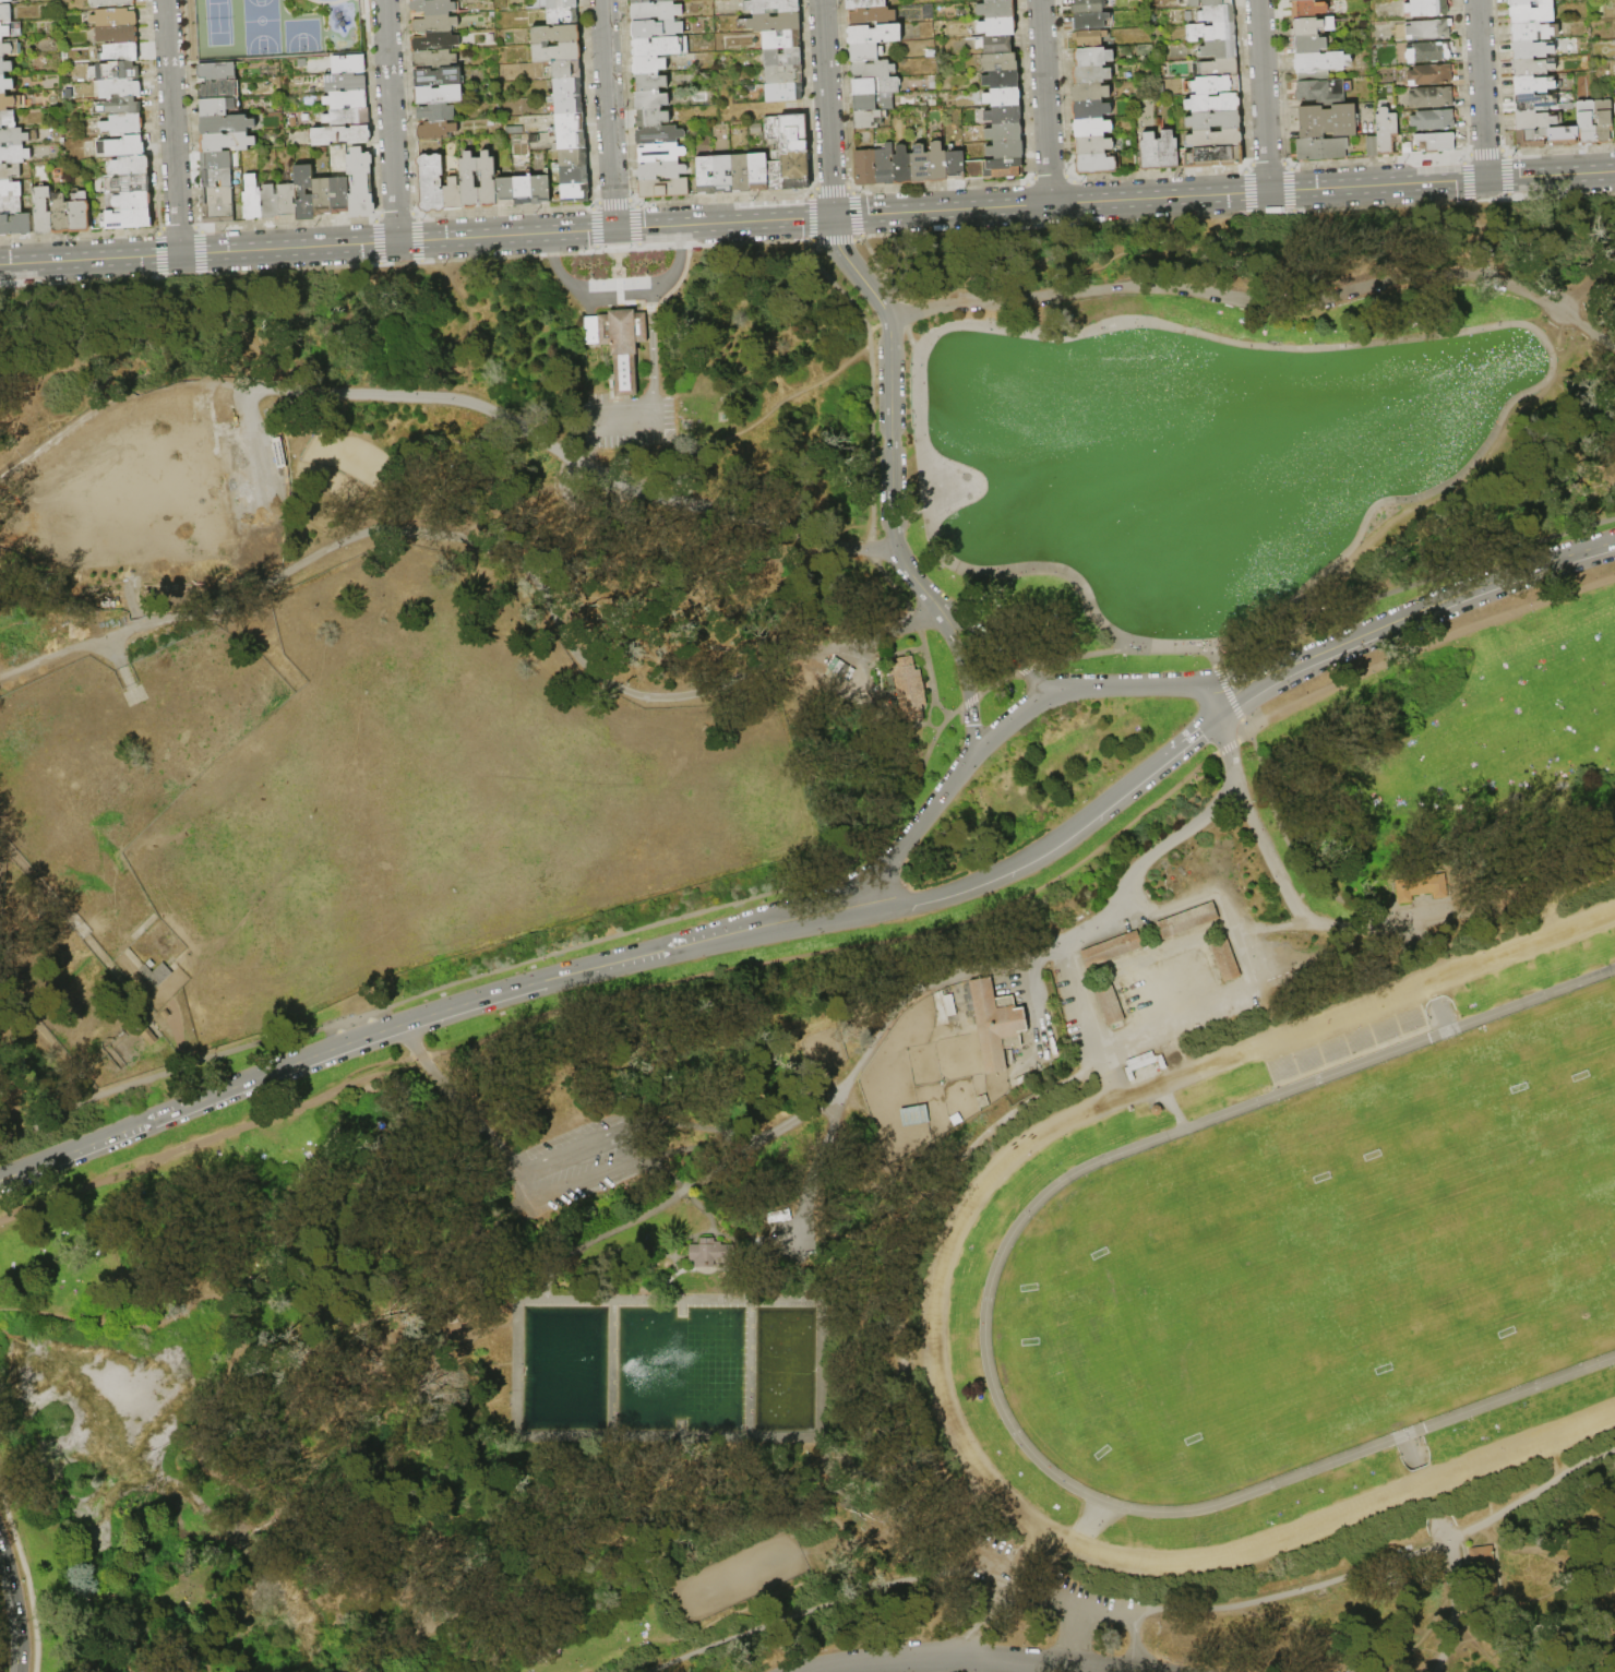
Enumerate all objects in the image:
building: (994, 0)
building: (1302, 0)
building: (7, 1)
building: (112, 2)
road: (327, 2)
building: (650, 2)
building: (1209, 2)
building: (1529, 2)
building: (562, 3)
building: (865, 3)
building: (1089, 5)
building: (432, 7)
building: (771, 7)
building: (1427, 8)
building: (997, 9)
building: (1307, 9)
building: (656, 12)
building: (5, 13)
building: (1218, 14)
building: (1531, 14)
building: (563, 16)
building: (873, 16)
building: (115, 17)
building: (1091, 21)
park: (218, 22)
building: (775, 22)
building: (435, 23)
park: (261, 26)
building: (997, 26)
building: (1313, 26)
park: (273, 28)
building: (657, 28)
building: (1429, 29)
building: (11, 31)
building: (1211, 32)
building: (1533, 32)
building: (117, 34)
building: (875, 34)
park: (301, 35)
building: (557, 35)
building: (781, 39)
building: (1091, 39)
building: (435, 41)
building: (995, 45)
building: (1311, 45)
building: (657, 46)
building: (8, 49)
building: (1220, 49)
building: (1531, 50)
building: (121, 52)
building: (557, 52)
building: (866, 52)
building: (1428, 52)
building: (783, 57)
building: (1092, 57)
building: (435, 59)
building: (998, 62)
building: (349, 64)
building: (649, 64)
building: (1320, 64)
building: (5, 67)
building: (1535, 67)
building: (1220, 68)
building: (120, 70)
building: (567, 70)
building: (873, 70)
building: (216, 71)
building: (783, 74)
building: (1091, 74)
building: (1431, 75)
building: (438, 76)
building: (1002, 80)
building: (345, 82)
building: (650, 83)
building: (5, 84)
building: (1216, 85)
building: (1530, 85)
building: (876, 86)
building: (569, 87)
building: (120, 88)
road: (1482, 88)
building: (218, 91)
building: (785, 92)
building: (1321, 92)
building: (1090, 93)
building: (439, 95)
road: (1264, 95)
building: (1432, 97)
building: (1003, 98)
building: (347, 99)
building: (651, 100)
building: (13, 101)
building: (874, 101)
road: (1044, 101)
building: (1533, 103)
building: (1213, 104)
building: (569, 105)
building: (125, 106)
building: (217, 107)
road: (826, 108)
building: (1090, 110)
building: (438, 112)
road: (609, 114)
building: (1003, 116)
building: (348, 118)
building: (653, 118)
building: (8, 119)
building: (868, 119)
road: (390, 120)
building: (1433, 120)
building: (1533, 120)
building: (1603, 120)
building: (1213, 121)
building: (1328, 121)
building: (1587, 121)
building: (570, 122)
building: (226, 124)
building: (123, 126)
road: (172, 126)
building: (1091, 128)
building: (436, 130)
building: (1005, 132)
building: (1384, 134)
building: (342, 135)
building: (659, 135)
building: (14, 136)
building: (1563, 136)
building: (1530, 138)
building: (1216, 139)
building: (571, 140)
building: (227, 142)
building: (1436, 142)
building: (1093, 145)
building: (122, 146)
building: (1006, 148)
building: (1321, 148)
building: (1148, 152)
building: (1167, 152)
building: (661, 153)
building: (788, 153)
building: (14, 154)
building: (1213, 157)
building: (573, 158)
building: (216, 160)
building: (937, 164)
building: (1096, 164)
building: (132, 165)
building: (885, 165)
building: (902, 166)
building: (919, 166)
building: (955, 166)
building: (994, 167)
building: (866, 168)
building: (661, 170)
building: (10, 171)
building: (741, 172)
building: (758, 172)
building: (706, 175)
building: (723, 175)
building: (575, 176)
building: (217, 178)
building: (488, 180)
building: (469, 181)
building: (133, 183)
building: (361, 183)
building: (431, 183)
building: (663, 188)
building: (10, 189)
building: (540, 190)
building: (524, 191)
building: (506, 192)
road: (1223, 192)
building: (306, 193)
building: (575, 193)
building: (218, 195)
building: (339, 195)
building: (453, 195)
building: (323, 196)
building: (252, 199)
building: (134, 201)
building: (286, 201)
building: (268, 202)
building: (11, 205)
building: (43, 211)
building: (80, 213)
building: (61, 214)
building: (219, 214)
traffic signals: (834, 216)
building: (128, 219)
building: (16, 225)
road: (1476, 226)
road: (415, 238)
road: (417, 239)
road: (378, 241)
road: (1240, 244)
road: (1241, 247)
road: (199, 252)
road: (160, 255)
road: (1607, 261)
road: (409, 262)
road: (270, 273)
road: (887, 283)
road: (81, 284)
road: (1578, 285)
road: (620, 295)
road: (1259, 300)
road: (178, 319)
road: (465, 329)
road: (212, 331)
building: (618, 343)
road: (656, 347)
road: (416, 395)
road: (248, 403)
road: (890, 410)
road: (96, 411)
road: (756, 417)
parking lot: (633, 423)
road: (596, 431)
road: (871, 468)
road: (259, 469)
road: (1462, 474)
parking lot: (261, 483)
road: (562, 517)
road: (751, 521)
road: (498, 548)
road: (731, 557)
road: (663, 578)
road: (1453, 598)
road: (1013, 659)
road: (1252, 674)
road: (1152, 684)
road: (967, 686)
building: (907, 688)
road: (1256, 691)
road: (1210, 700)
road: (1020, 713)
road: (1191, 738)
road: (1228, 752)
road: (931, 809)
road: (1283, 831)
road: (1052, 845)
road: (842, 861)
road: (893, 882)
building: (1419, 886)
road: (1129, 887)
road: (1510, 897)
road: (822, 898)
road: (1291, 899)
building: (1186, 919)
road: (828, 920)
road: (1410, 934)
building: (1110, 948)
road: (832, 951)
park: (816, 956)
building: (1223, 958)
building: (155, 974)
road: (567, 974)
road: (1019, 988)
flagpole: (941, 991)
building: (1108, 1002)
building: (948, 1004)
road: (1440, 1015)
building: (994, 1023)
building: (1184, 1026)
road: (1091, 1037)
road: (875, 1043)
road: (1109, 1077)
park: (1570, 1080)
road: (201, 1100)
building: (981, 1100)
road: (458, 1103)
building: (1155, 1109)
road: (1174, 1110)
building: (584, 1134)
road: (726, 1135)
road: (673, 1145)
park: (1400, 1158)
road: (638, 1161)
road: (630, 1163)
road: (1089, 1165)
track: (1089, 1165)
parking lot: (576, 1173)
road: (697, 1202)
road: (510, 1219)
road: (715, 1219)
parking lot: (790, 1225)
road: (744, 1234)
track: (954, 1235)
park: (1596, 1235)
road: (795, 1237)
park: (1184, 1240)
road: (682, 1243)
road: (581, 1250)
road: (745, 1252)
building: (711, 1254)
road: (758, 1264)
track: (1296, 1267)
stadium: (1293, 1268)
road: (709, 1270)
road: (542, 1286)
road: (902, 1286)
road: (514, 1298)
park: (1455, 1304)
road: (857, 1342)
road: (378, 1353)
dam: (613, 1369)
dam: (750, 1369)
park: (1248, 1389)
road: (207, 1412)
road: (1424, 1425)
track: (1424, 1425)
road: (1412, 1449)
road: (820, 1465)
road: (1529, 1495)
road: (1093, 1517)
road: (647, 1527)
road: (1443, 1532)
road: (1548, 1541)
road: (1586, 1567)
building: (1483, 1568)
road: (27, 1579)
parking lot: (1058, 1581)
road: (128, 1583)
road: (1055, 1591)
road: (1040, 1592)
road: (14, 1608)
road: (1453, 1611)
road: (988, 1612)
road: (1480, 1638)
road: (1136, 1641)
road: (1402, 1644)
road: (979, 1658)

